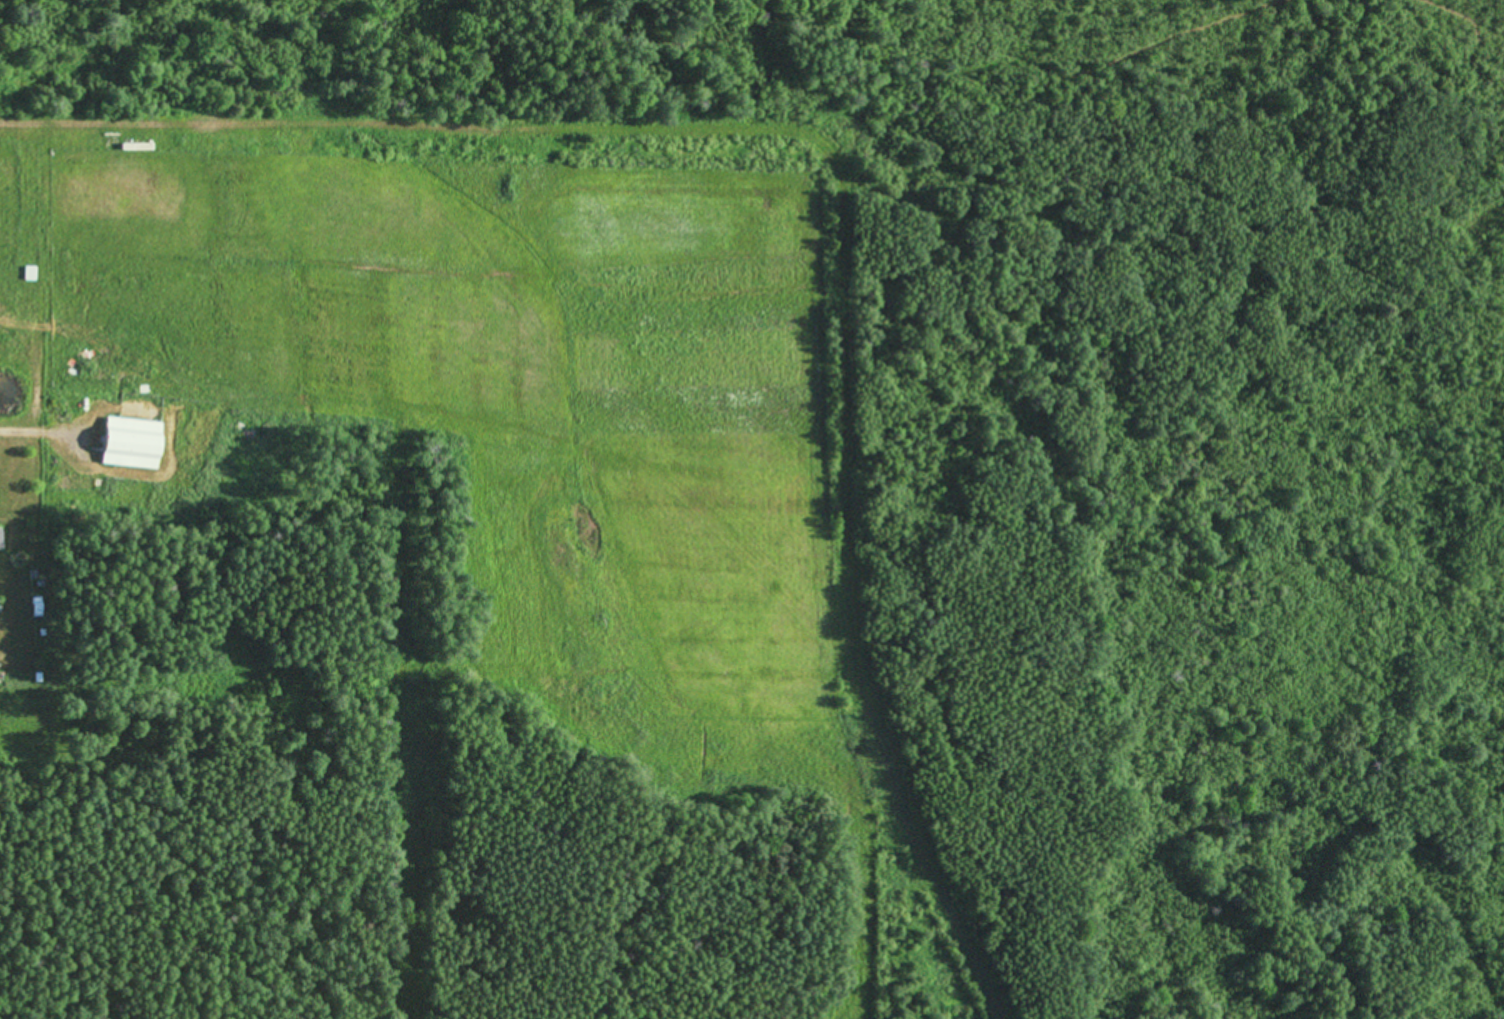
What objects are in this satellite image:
building: (31, 272)
building: (133, 444)
building: (1, 540)

